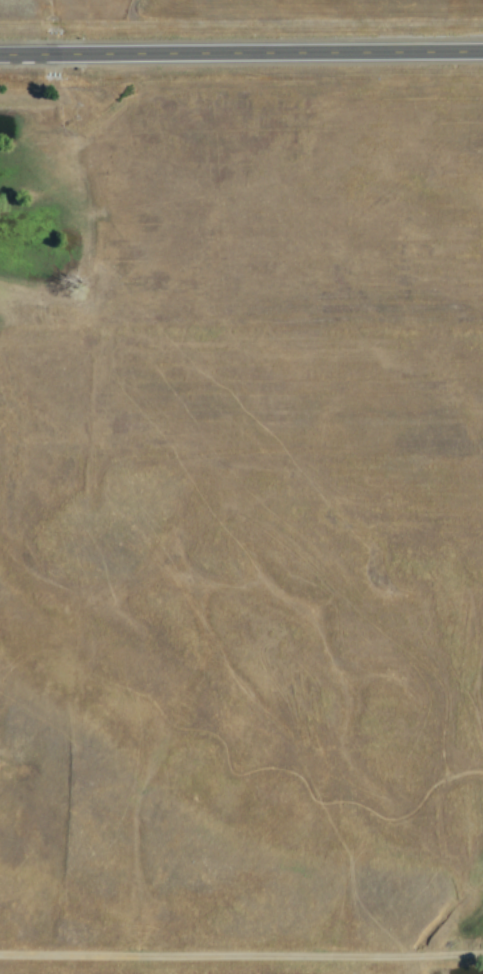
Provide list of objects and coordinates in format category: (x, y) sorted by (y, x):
road: (241, 56)

